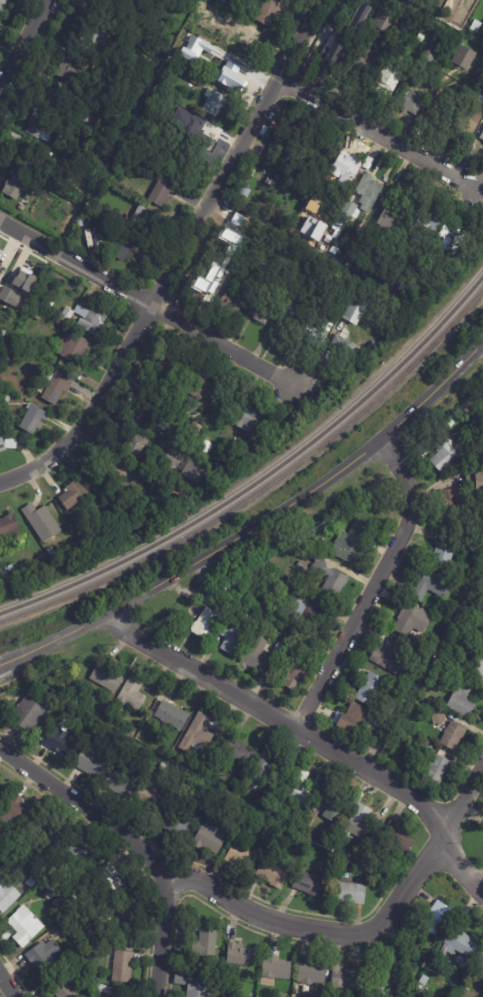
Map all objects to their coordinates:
building: (223, 2)
building: (375, 3)
building: (3, 5)
building: (104, 11)
building: (270, 12)
building: (205, 14)
building: (454, 14)
building: (229, 15)
building: (356, 19)
building: (382, 20)
building: (477, 28)
building: (424, 37)
building: (243, 38)
road: (23, 41)
building: (89, 43)
building: (334, 46)
building: (193, 48)
building: (430, 51)
building: (462, 57)
building: (366, 64)
building: (73, 68)
building: (98, 70)
building: (480, 72)
building: (230, 74)
building: (192, 79)
building: (123, 84)
building: (388, 84)
building: (56, 99)
building: (102, 99)
building: (85, 101)
building: (413, 102)
building: (215, 103)
building: (440, 114)
building: (473, 119)
building: (40, 125)
building: (198, 127)
road: (380, 138)
building: (482, 138)
building: (129, 140)
building: (284, 142)
building: (55, 146)
building: (315, 156)
building: (28, 157)
road: (465, 158)
building: (369, 164)
building: (342, 174)
building: (16, 184)
building: (369, 192)
building: (163, 193)
building: (245, 194)
building: (27, 205)
building: (263, 207)
building: (349, 215)
building: (387, 221)
building: (147, 223)
building: (429, 225)
building: (373, 231)
building: (102, 233)
building: (244, 235)
building: (450, 237)
building: (328, 239)
building: (239, 244)
building: (122, 248)
building: (335, 250)
road: (182, 260)
building: (225, 261)
building: (24, 280)
building: (395, 281)
building: (228, 283)
building: (208, 284)
building: (402, 289)
building: (9, 297)
building: (18, 297)
building: (51, 303)
building: (232, 303)
road: (149, 305)
building: (262, 311)
building: (292, 312)
building: (356, 312)
building: (35, 315)
building: (67, 316)
building: (92, 322)
building: (317, 334)
building: (4, 335)
building: (73, 347)
building: (372, 349)
building: (354, 350)
building: (13, 353)
building: (166, 377)
building: (198, 384)
building: (482, 386)
building: (56, 387)
building: (33, 420)
building: (250, 421)
building: (164, 423)
building: (193, 433)
building: (8, 445)
building: (136, 449)
building: (247, 451)
building: (444, 453)
building: (228, 462)
building: (116, 470)
building: (196, 473)
railway: (264, 477)
building: (475, 481)
railway: (263, 490)
building: (74, 497)
building: (450, 500)
building: (40, 521)
road: (257, 525)
building: (9, 527)
building: (67, 539)
building: (351, 541)
building: (446, 551)
building: (300, 565)
building: (10, 572)
building: (332, 579)
building: (1, 580)
building: (430, 586)
road: (373, 587)
building: (238, 588)
building: (248, 596)
building: (224, 604)
building: (308, 605)
building: (408, 619)
building: (454, 620)
building: (207, 623)
building: (232, 638)
building: (279, 651)
building: (258, 655)
building: (391, 656)
building: (479, 662)
building: (296, 676)
building: (107, 677)
building: (455, 679)
building: (482, 679)
building: (372, 689)
building: (131, 692)
building: (463, 700)
building: (433, 711)
building: (28, 712)
building: (172, 715)
building: (361, 720)
building: (450, 731)
building: (198, 735)
road: (311, 739)
building: (60, 741)
building: (238, 752)
building: (92, 761)
building: (435, 764)
building: (266, 767)
building: (120, 782)
building: (297, 785)
building: (316, 787)
building: (2, 794)
building: (261, 795)
building: (152, 797)
building: (332, 806)
road: (86, 809)
building: (18, 813)
building: (180, 822)
building: (361, 822)
building: (53, 830)
building: (214, 833)
building: (396, 838)
building: (328, 841)
building: (82, 847)
building: (242, 856)
building: (369, 858)
building: (272, 874)
building: (108, 877)
building: (365, 878)
building: (32, 881)
building: (308, 883)
building: (49, 892)
building: (351, 892)
building: (7, 893)
building: (58, 902)
building: (123, 915)
building: (439, 918)
building: (25, 925)
building: (69, 929)
road: (162, 935)
road: (368, 936)
building: (206, 942)
building: (459, 945)
building: (240, 955)
building: (44, 956)
building: (121, 964)
building: (480, 964)
building: (276, 967)
building: (312, 973)
building: (347, 977)
building: (386, 980)
building: (92, 984)
road: (7, 985)
building: (66, 986)
building: (199, 987)
building: (238, 990)

